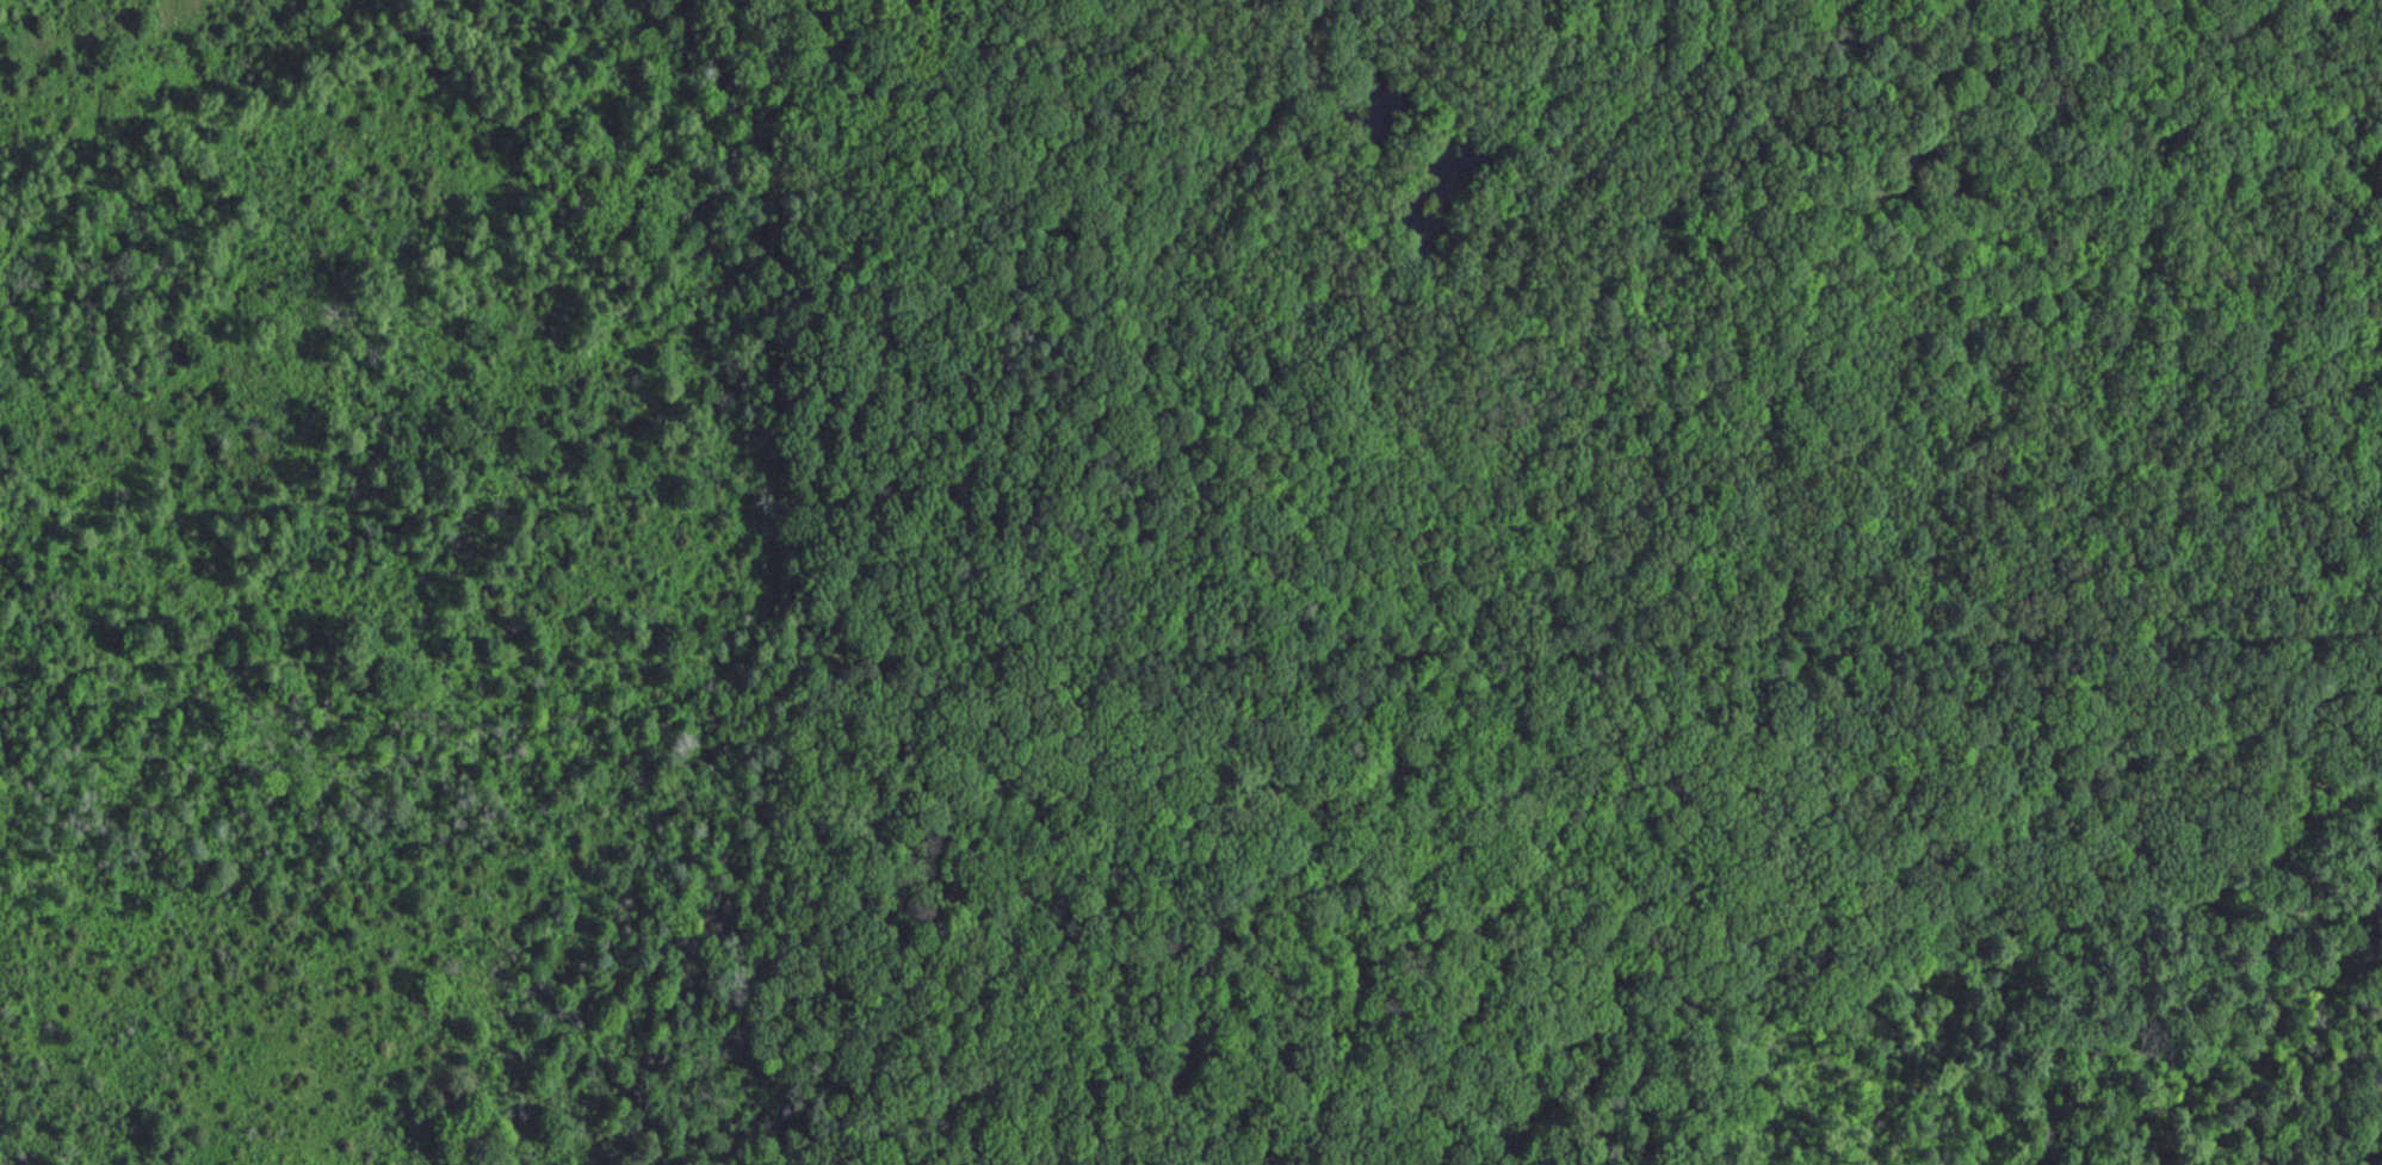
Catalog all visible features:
road: (1190, 658)

